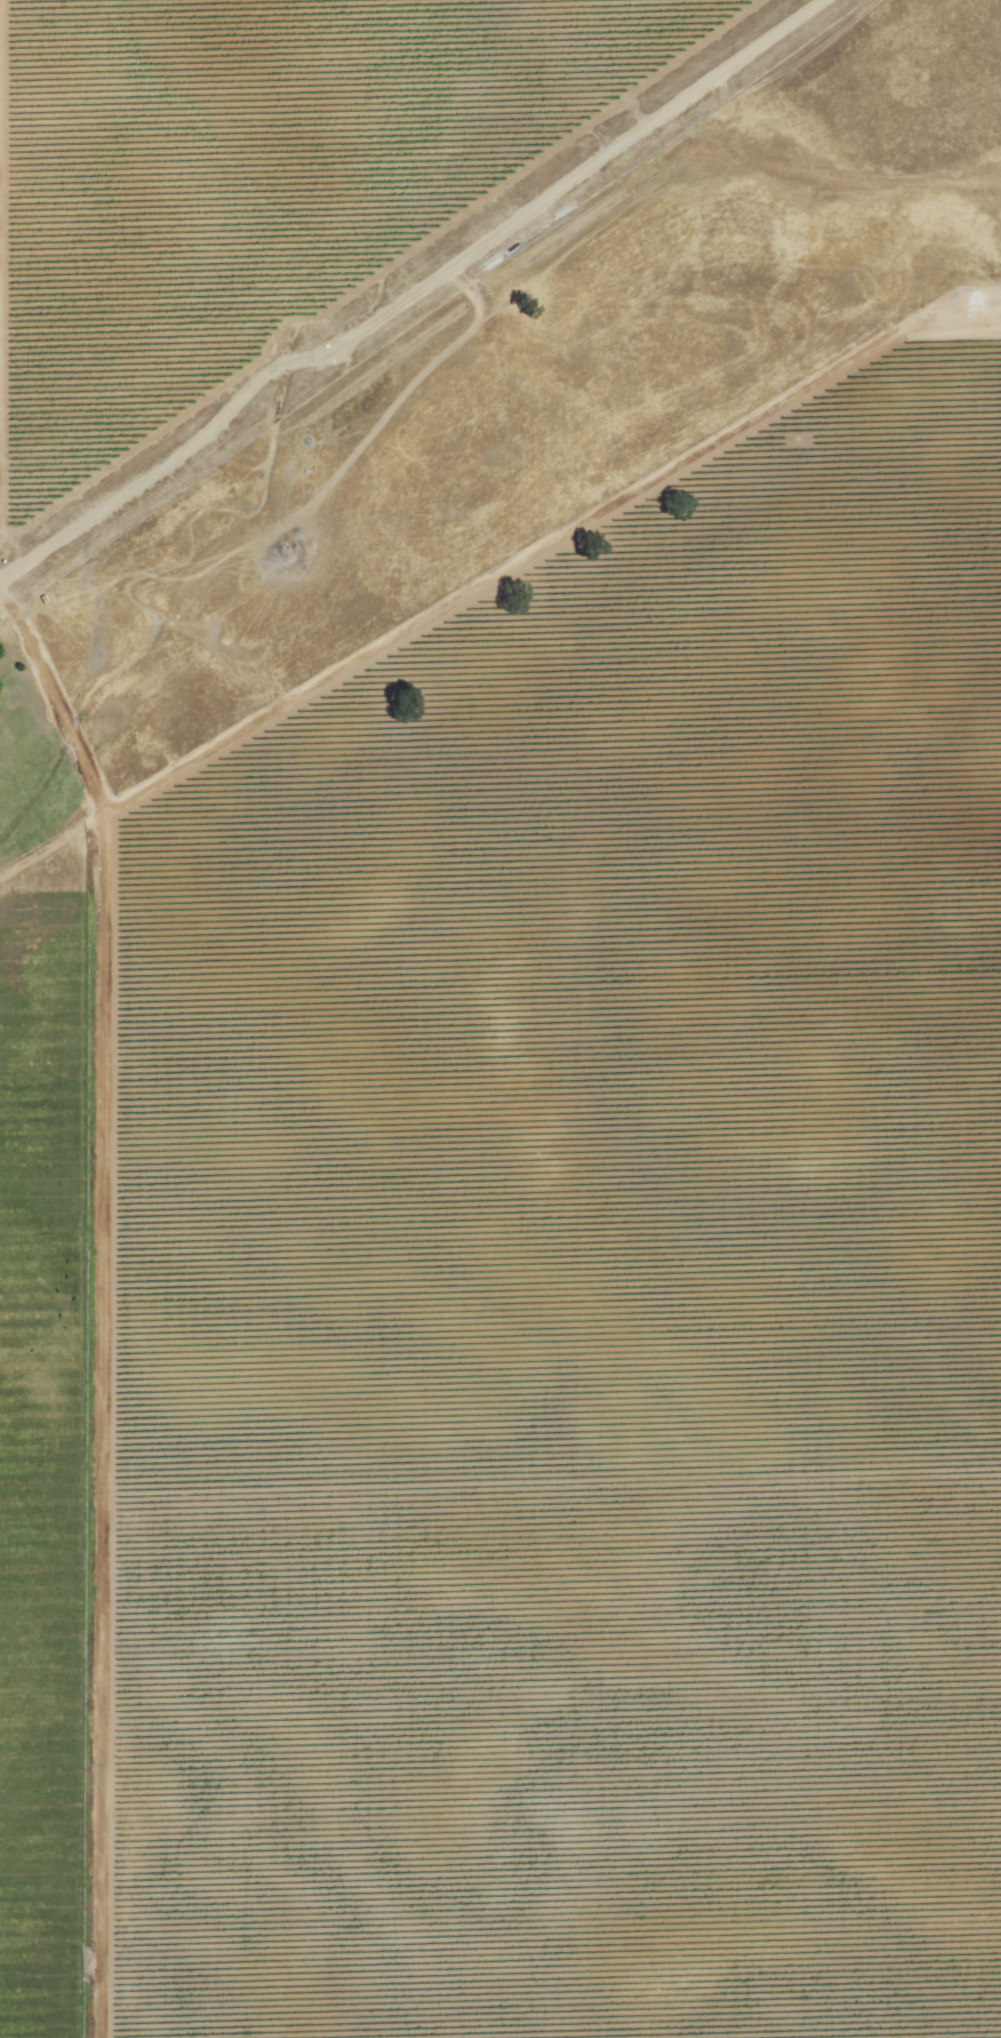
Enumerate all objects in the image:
road: (411, 296)

